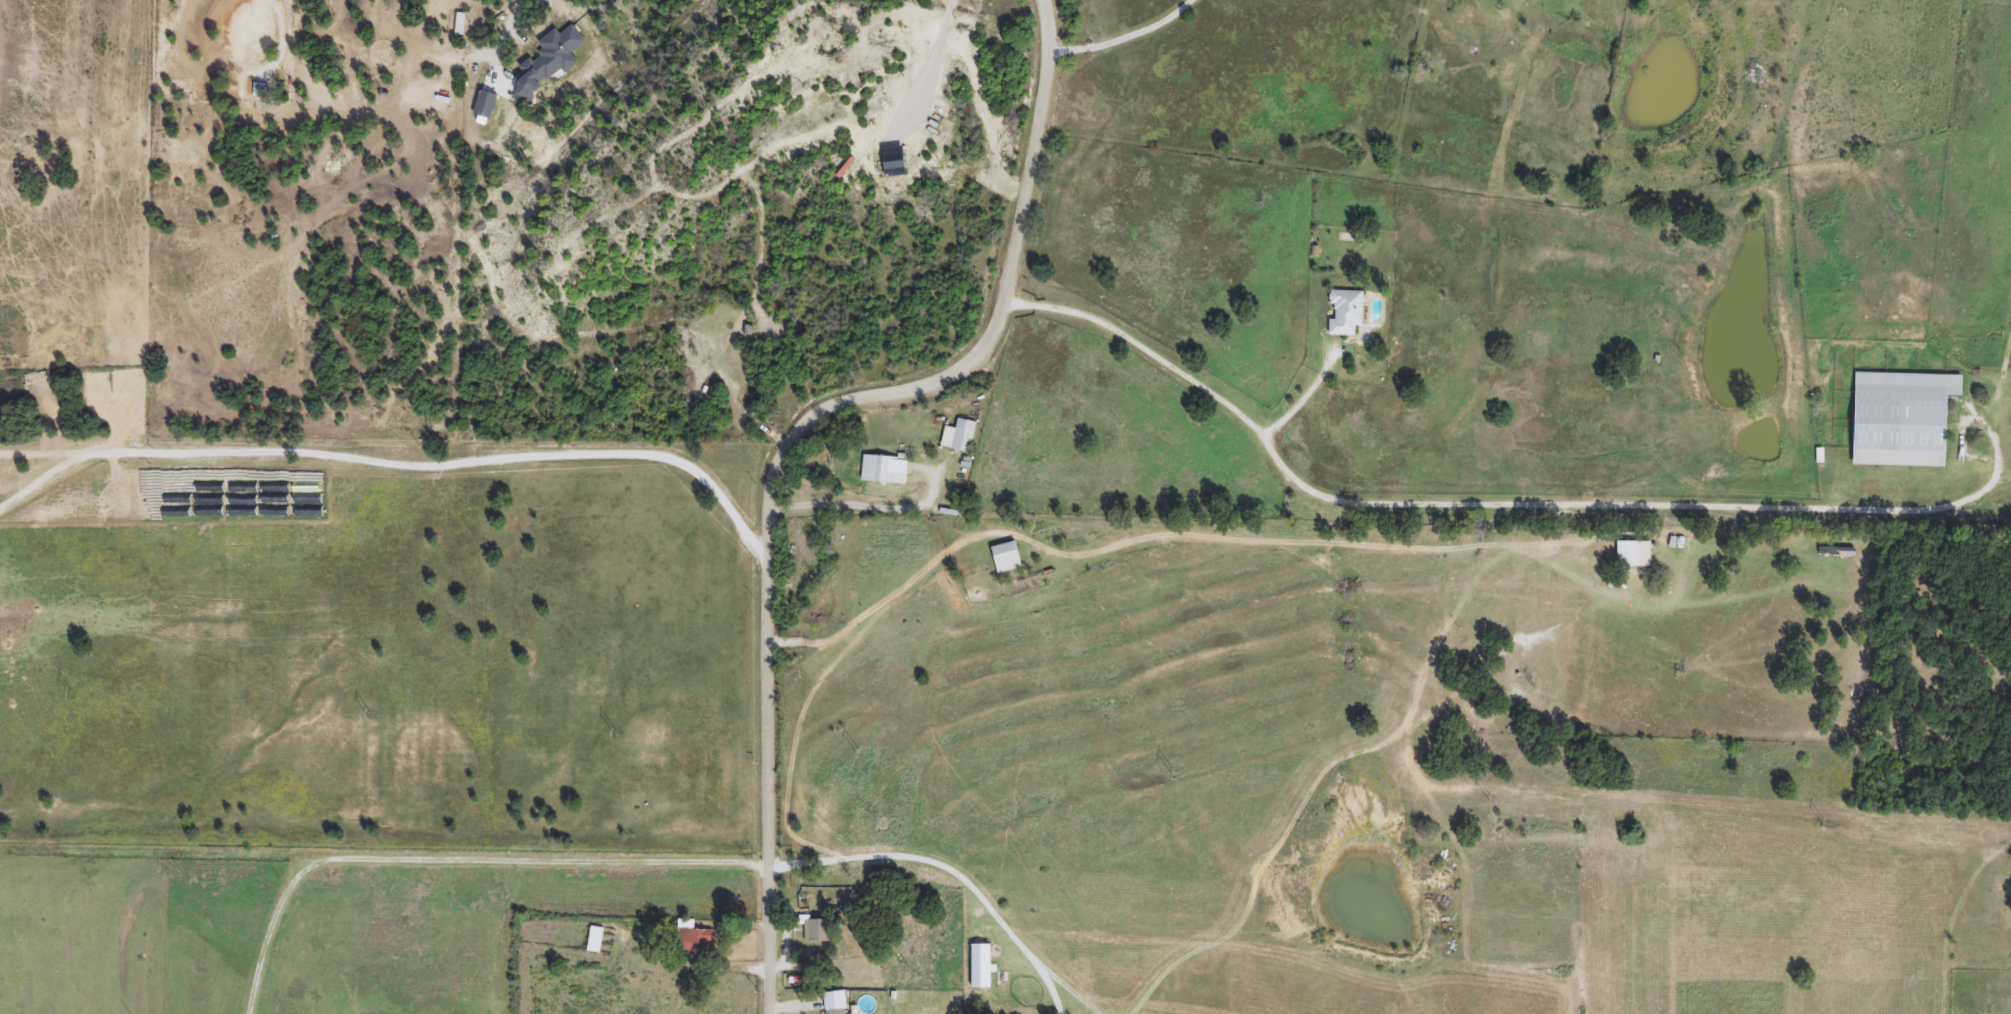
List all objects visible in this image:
road: (519, 15)
road: (1123, 39)
building: (1348, 314)
road: (1300, 407)
building: (1897, 418)
building: (967, 437)
road: (791, 440)
road: (406, 469)
building: (886, 469)
road: (861, 500)
road: (1472, 514)
building: (1826, 551)
building: (1629, 554)
building: (1010, 558)
road: (870, 608)
power tower: (69, 696)
power tower: (369, 721)
power tower: (615, 739)
power tower: (855, 757)
power tower: (1171, 781)
power tower: (1488, 804)
power tower: (1821, 831)
road: (383, 858)
road: (943, 873)
road: (270, 926)
building: (819, 932)
building: (596, 940)
building: (696, 941)
building: (841, 1012)

